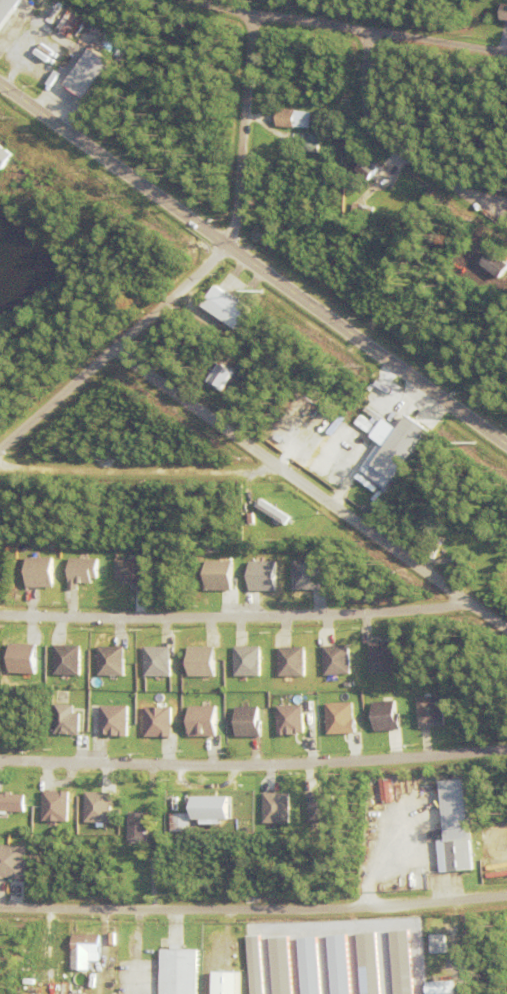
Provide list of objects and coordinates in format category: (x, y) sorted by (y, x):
building: (37, 5)
building: (8, 10)
building: (502, 13)
building: (68, 24)
road: (348, 27)
building: (124, 52)
building: (304, 71)
building: (90, 74)
building: (329, 96)
building: (293, 119)
building: (315, 144)
road: (402, 148)
building: (4, 158)
building: (274, 166)
building: (370, 171)
building: (9, 181)
building: (358, 185)
road: (487, 196)
building: (363, 211)
road: (253, 266)
building: (496, 266)
road: (204, 272)
building: (222, 308)
building: (225, 377)
building: (1, 388)
building: (365, 425)
building: (391, 454)
road: (146, 471)
road: (312, 490)
building: (276, 513)
building: (431, 532)
building: (81, 571)
building: (38, 572)
building: (128, 572)
building: (216, 574)
building: (304, 574)
building: (261, 575)
road: (236, 621)
building: (381, 656)
building: (19, 658)
building: (65, 659)
building: (109, 659)
building: (335, 659)
building: (156, 661)
building: (201, 661)
building: (247, 661)
building: (290, 661)
building: (430, 710)
building: (385, 715)
building: (338, 717)
building: (63, 719)
building: (200, 719)
building: (288, 719)
building: (112, 720)
building: (155, 720)
building: (247, 721)
road: (253, 765)
building: (11, 802)
building: (53, 805)
building: (95, 806)
building: (273, 807)
building: (320, 807)
building: (211, 809)
building: (180, 821)
building: (135, 825)
building: (457, 842)
building: (11, 861)
road: (253, 913)
building: (437, 943)
building: (85, 946)
building: (400, 961)
building: (253, 963)
building: (367, 963)
building: (279, 964)
building: (337, 964)
building: (308, 965)
building: (176, 971)
building: (435, 976)
building: (225, 982)
building: (436, 987)

